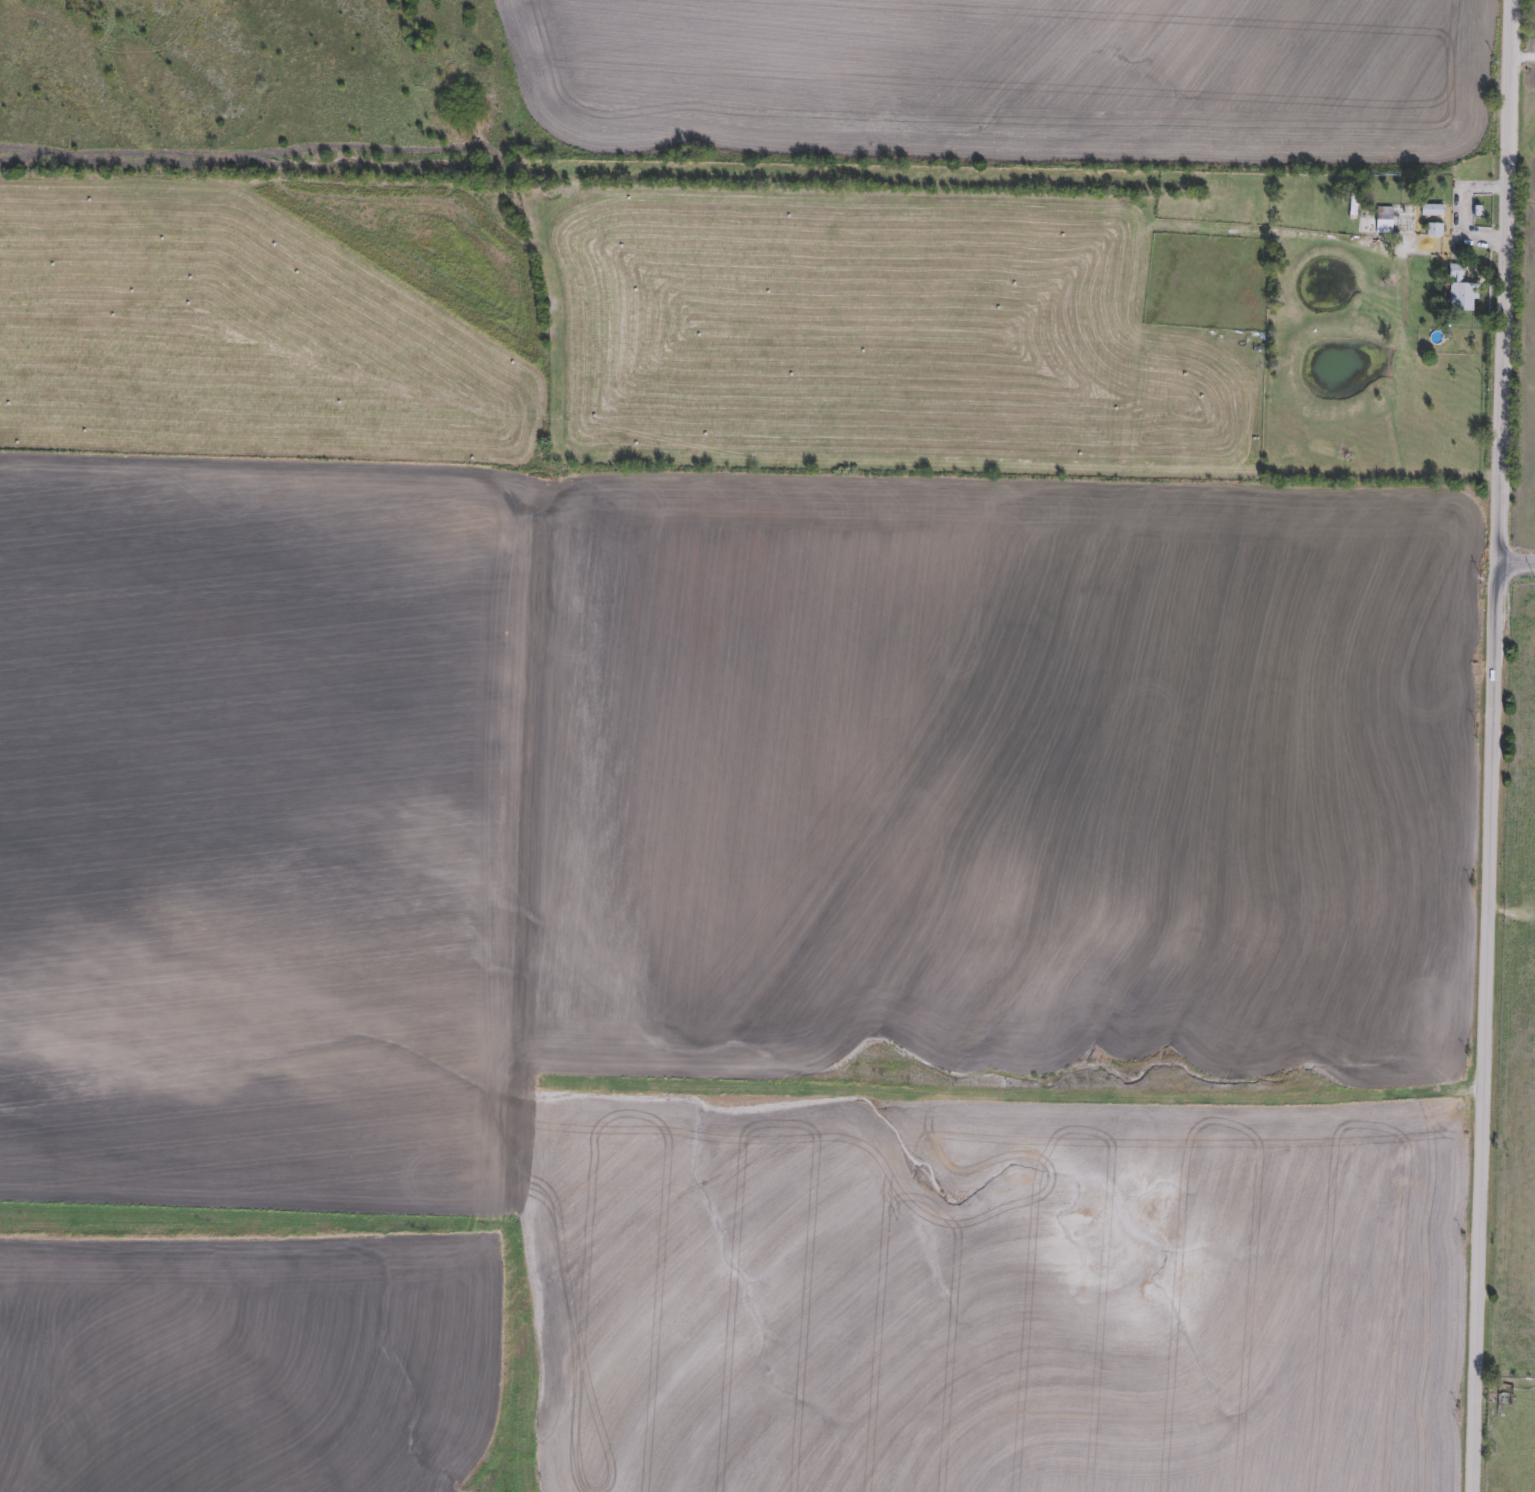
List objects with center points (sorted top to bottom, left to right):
road: (1521, 57)
road: (1462, 208)
building: (1431, 213)
building: (1394, 220)
building: (1461, 297)
road: (1516, 559)
road: (1491, 746)

